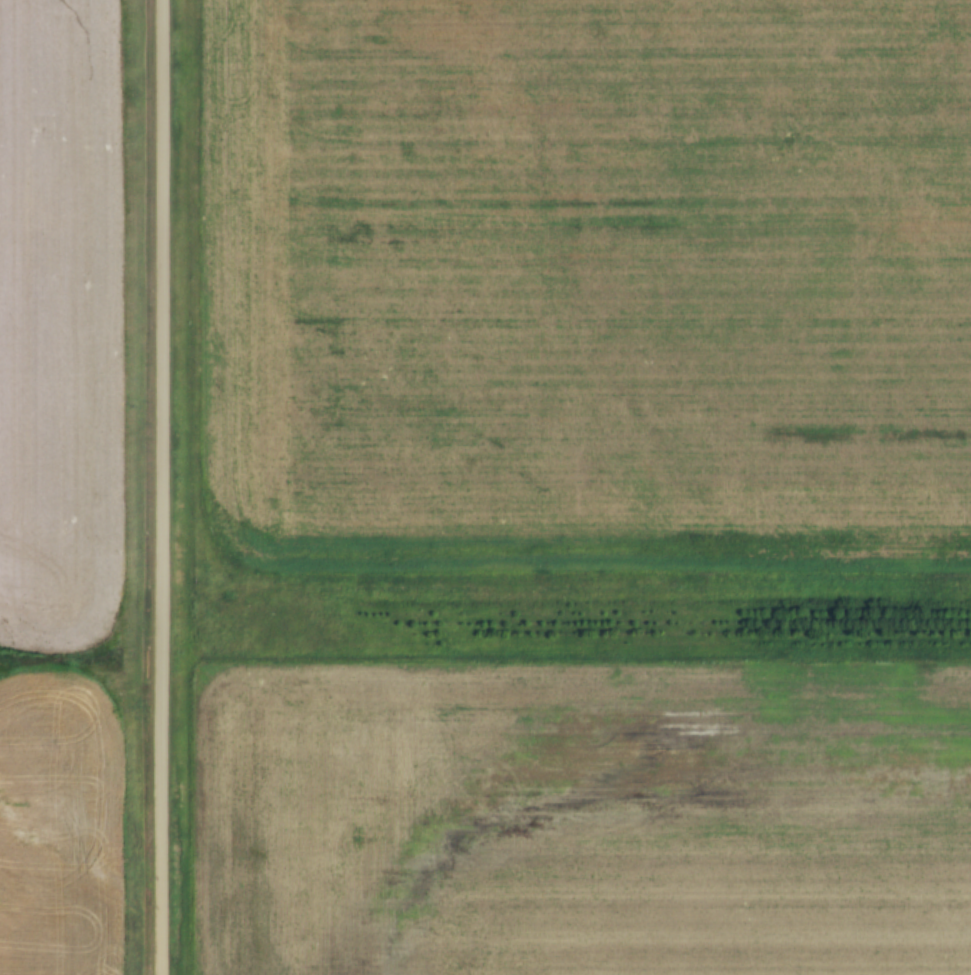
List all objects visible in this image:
road: (161, 487)

